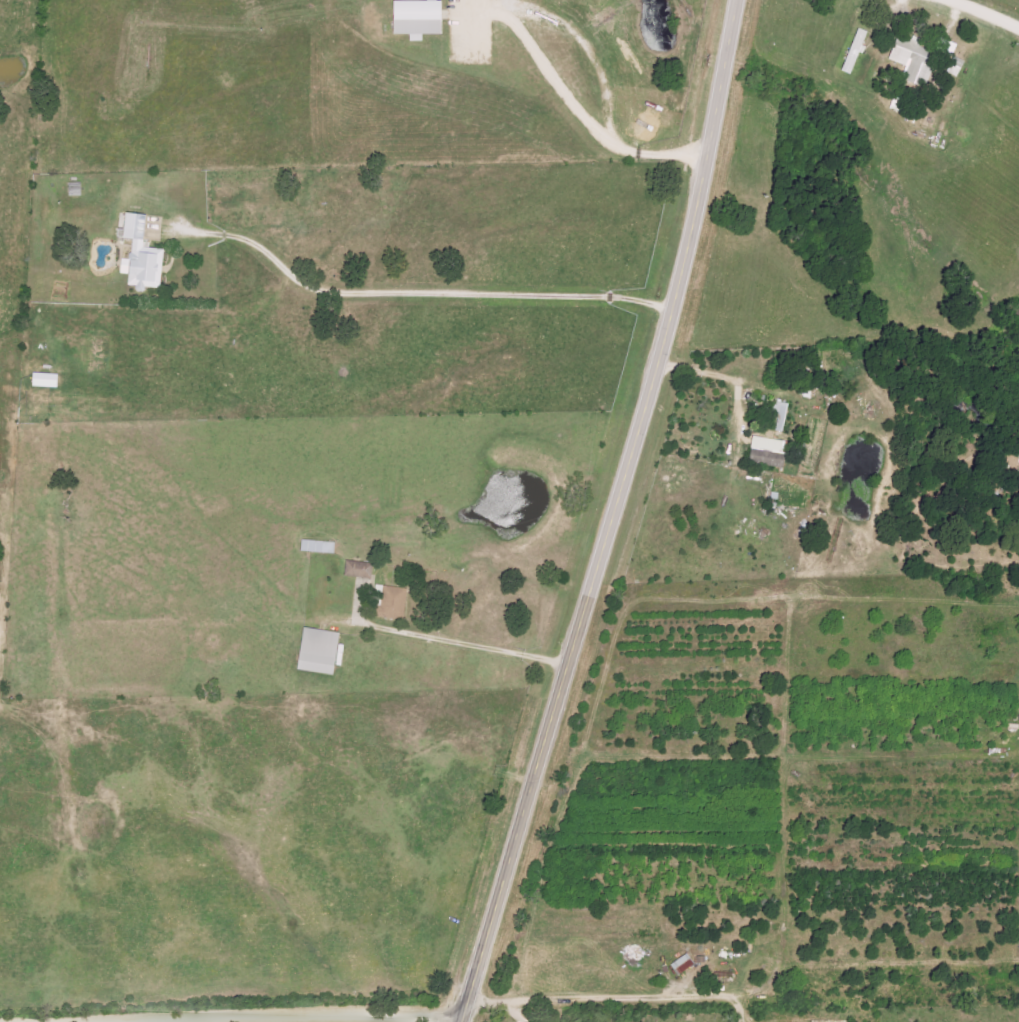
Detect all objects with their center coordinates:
road: (980, 14)
building: (415, 17)
building: (853, 51)
building: (907, 58)
building: (955, 67)
building: (73, 189)
building: (139, 254)
building: (43, 380)
building: (766, 452)
road: (612, 514)
building: (317, 546)
building: (357, 569)
building: (391, 603)
building: (317, 651)
building: (681, 965)
road: (315, 1019)

